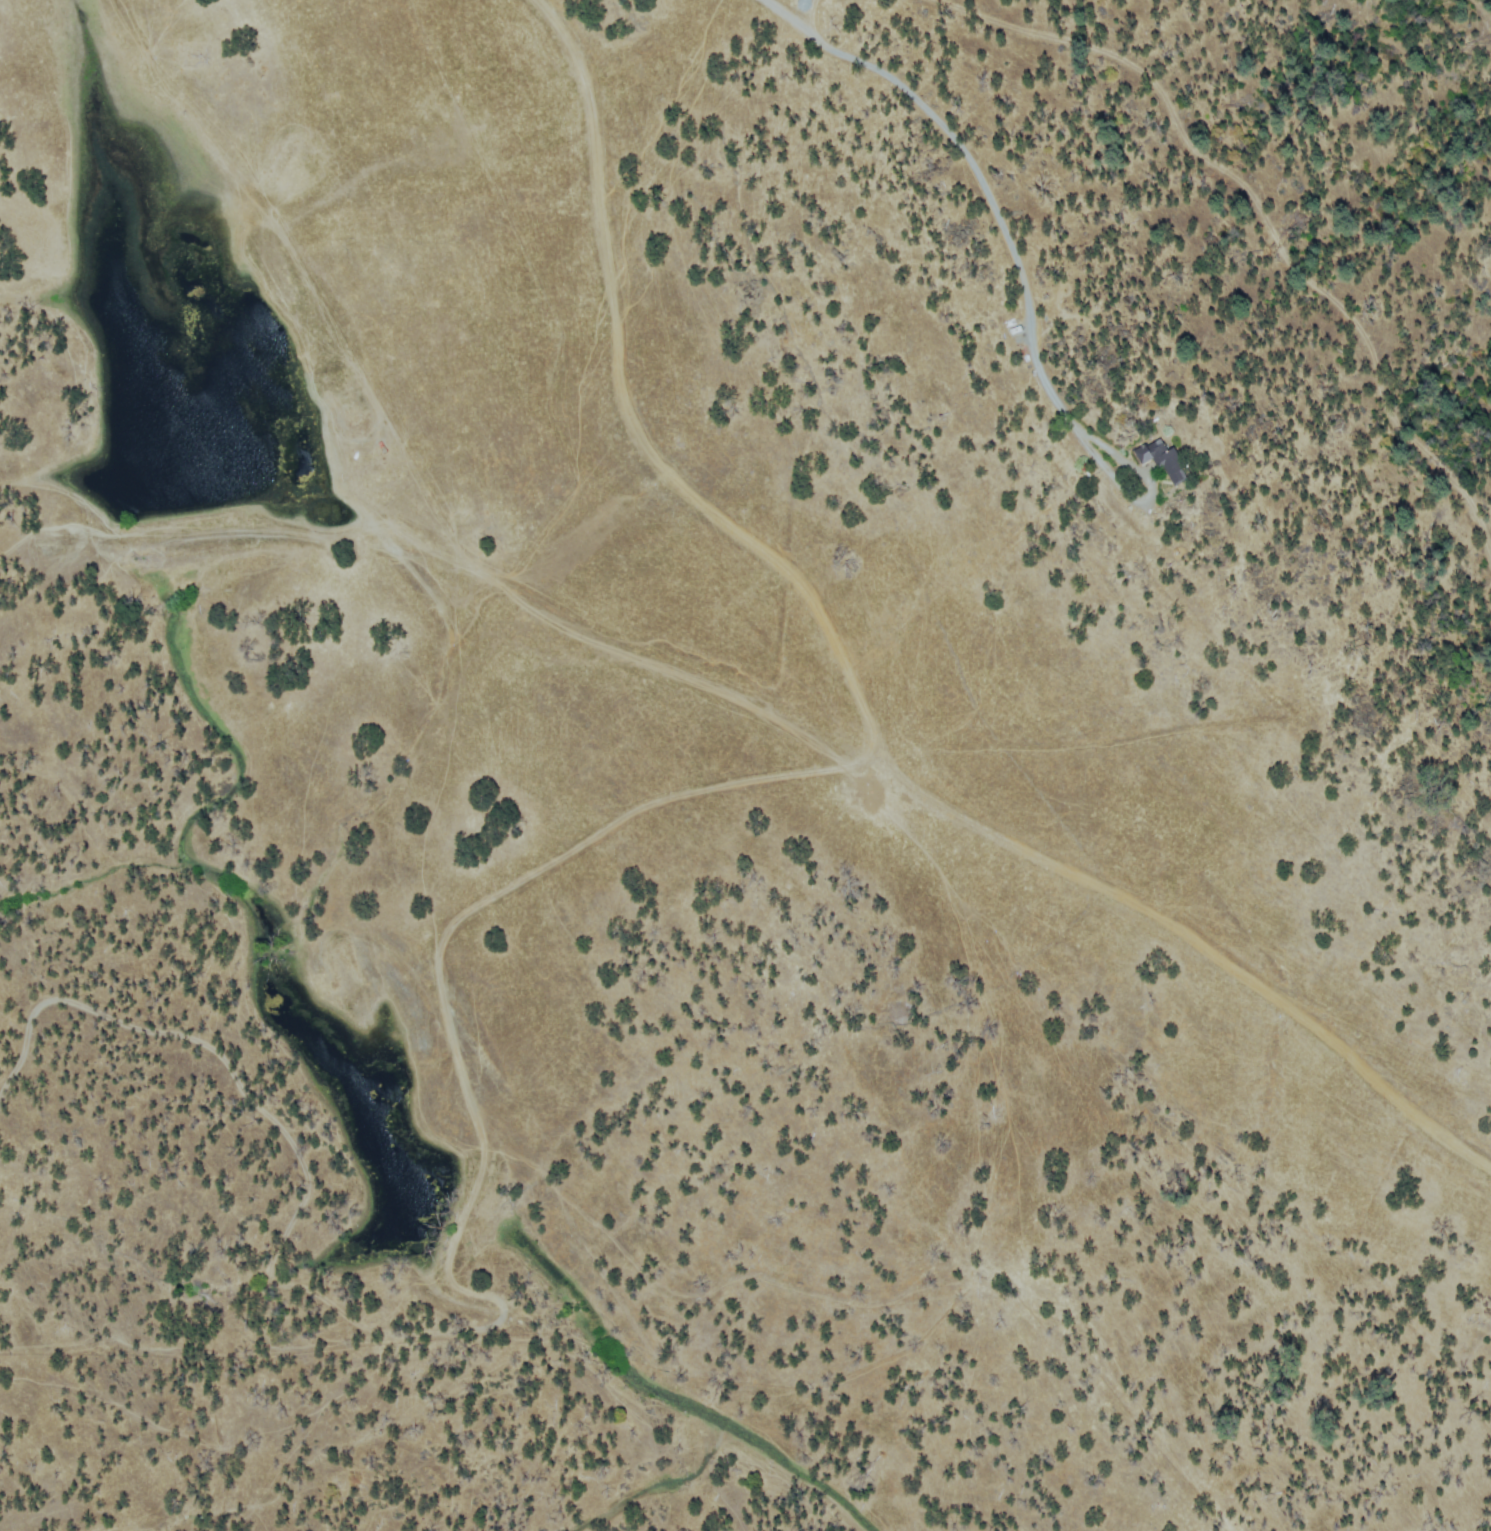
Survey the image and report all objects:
road: (630, 418)
building: (1160, 459)
road: (440, 944)

